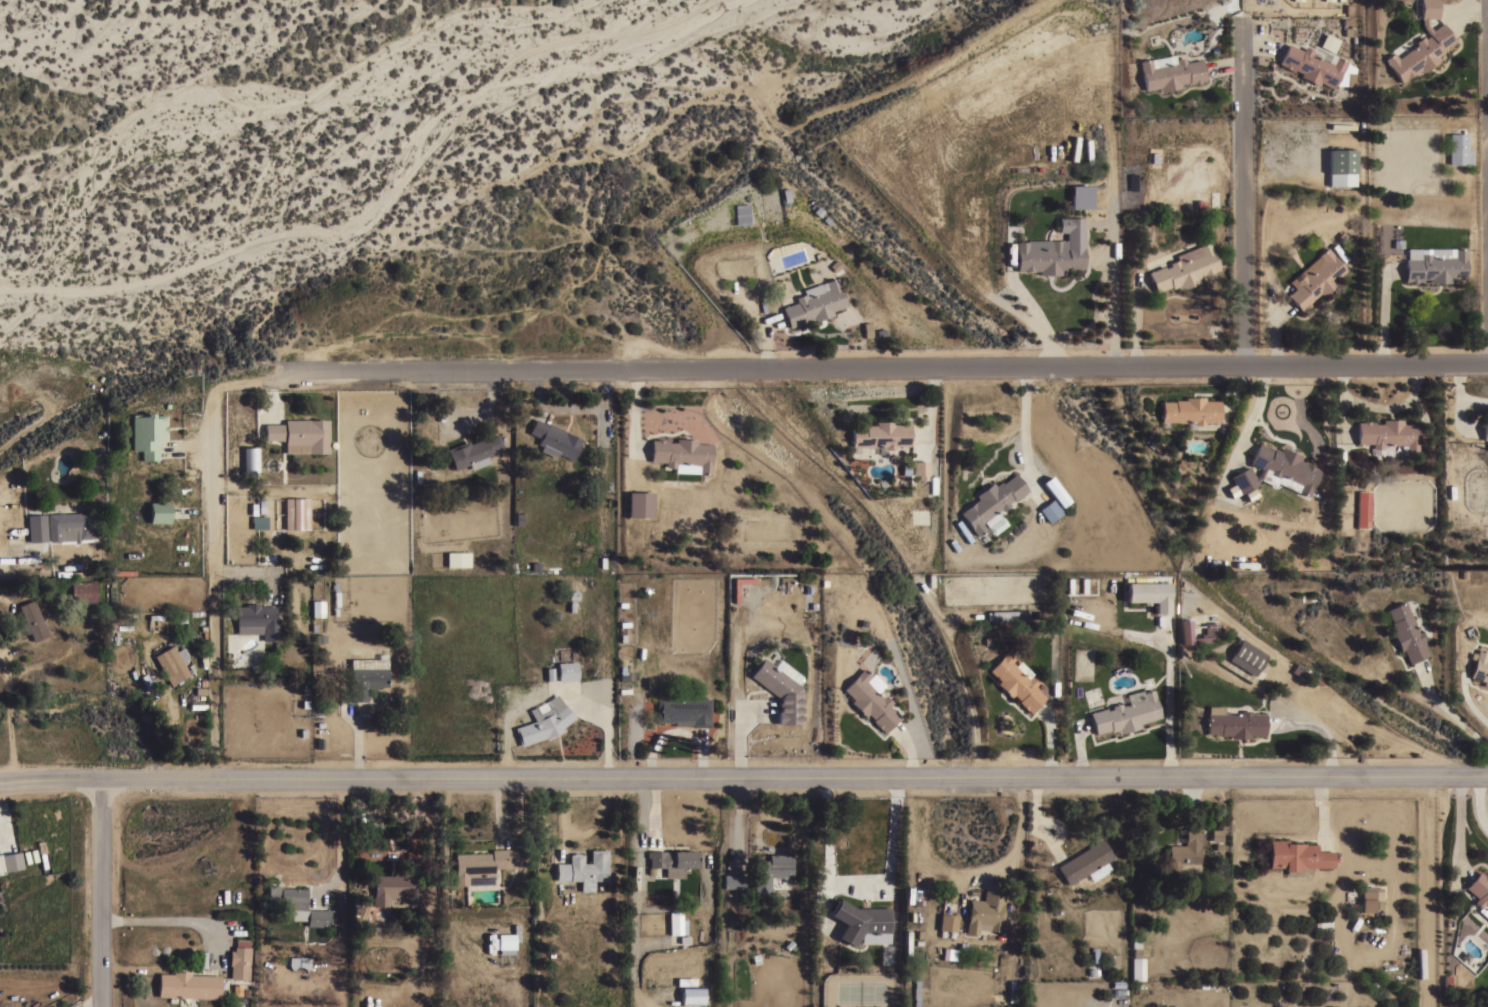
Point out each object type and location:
road: (1469, 7)
building: (1326, 43)
road: (1255, 45)
building: (1421, 45)
road: (1226, 65)
building: (1311, 65)
building: (1170, 72)
building: (1458, 149)
building: (905, 156)
building: (1341, 167)
road: (1243, 196)
building: (1080, 197)
building: (742, 214)
building: (1053, 249)
building: (1434, 264)
building: (1184, 268)
building: (1316, 278)
road: (1028, 301)
building: (814, 303)
road: (1114, 304)
road: (1383, 315)
road: (1135, 325)
road: (1274, 333)
road: (767, 342)
road: (848, 367)
road: (1460, 392)
road: (572, 406)
road: (1379, 406)
road: (1257, 408)
road: (928, 410)
building: (1190, 410)
road: (1341, 414)
building: (1485, 428)
road: (1024, 430)
building: (146, 433)
building: (1387, 433)
building: (300, 435)
building: (880, 435)
building: (555, 439)
building: (473, 451)
building: (682, 454)
building: (250, 461)
building: (921, 468)
building: (1276, 468)
building: (991, 501)
building: (639, 504)
building: (1362, 508)
building: (1050, 510)
building: (159, 511)
building: (296, 513)
building: (259, 522)
building: (69, 525)
building: (34, 530)
building: (962, 530)
building: (457, 558)
building: (36, 572)
building: (91, 573)
road: (213, 584)
building: (82, 591)
building: (1148, 594)
building: (317, 608)
building: (1009, 615)
building: (32, 620)
building: (257, 620)
building: (1405, 632)
building: (1209, 633)
building: (1246, 656)
building: (170, 664)
building: (1479, 666)
building: (566, 670)
building: (366, 676)
building: (1015, 681)
building: (781, 688)
road: (549, 689)
road: (1467, 700)
building: (869, 701)
road: (1167, 702)
building: (684, 711)
road: (1451, 713)
building: (1125, 714)
building: (544, 721)
building: (1233, 722)
road: (1319, 728)
road: (739, 730)
road: (674, 732)
road: (700, 742)
road: (1048, 742)
road: (358, 744)
road: (1079, 751)
road: (906, 752)
road: (795, 774)
road: (51, 781)
road: (1478, 803)
road: (1321, 805)
road: (4, 807)
road: (1460, 827)
building: (1215, 834)
road: (340, 841)
building: (878, 843)
building: (1185, 852)
building: (1297, 856)
building: (11, 860)
building: (672, 861)
building: (1084, 861)
building: (486, 864)
building: (583, 868)
building: (770, 871)
building: (1097, 871)
road: (963, 877)
building: (733, 881)
building: (395, 888)
building: (1479, 892)
road: (99, 893)
building: (1370, 893)
building: (295, 905)
building: (985, 912)
building: (947, 922)
building: (676, 923)
building: (862, 923)
building: (508, 940)
building: (907, 942)
building: (239, 959)
building: (298, 962)
building: (1137, 968)
building: (685, 981)
building: (188, 985)
building: (1012, 993)
building: (692, 995)

